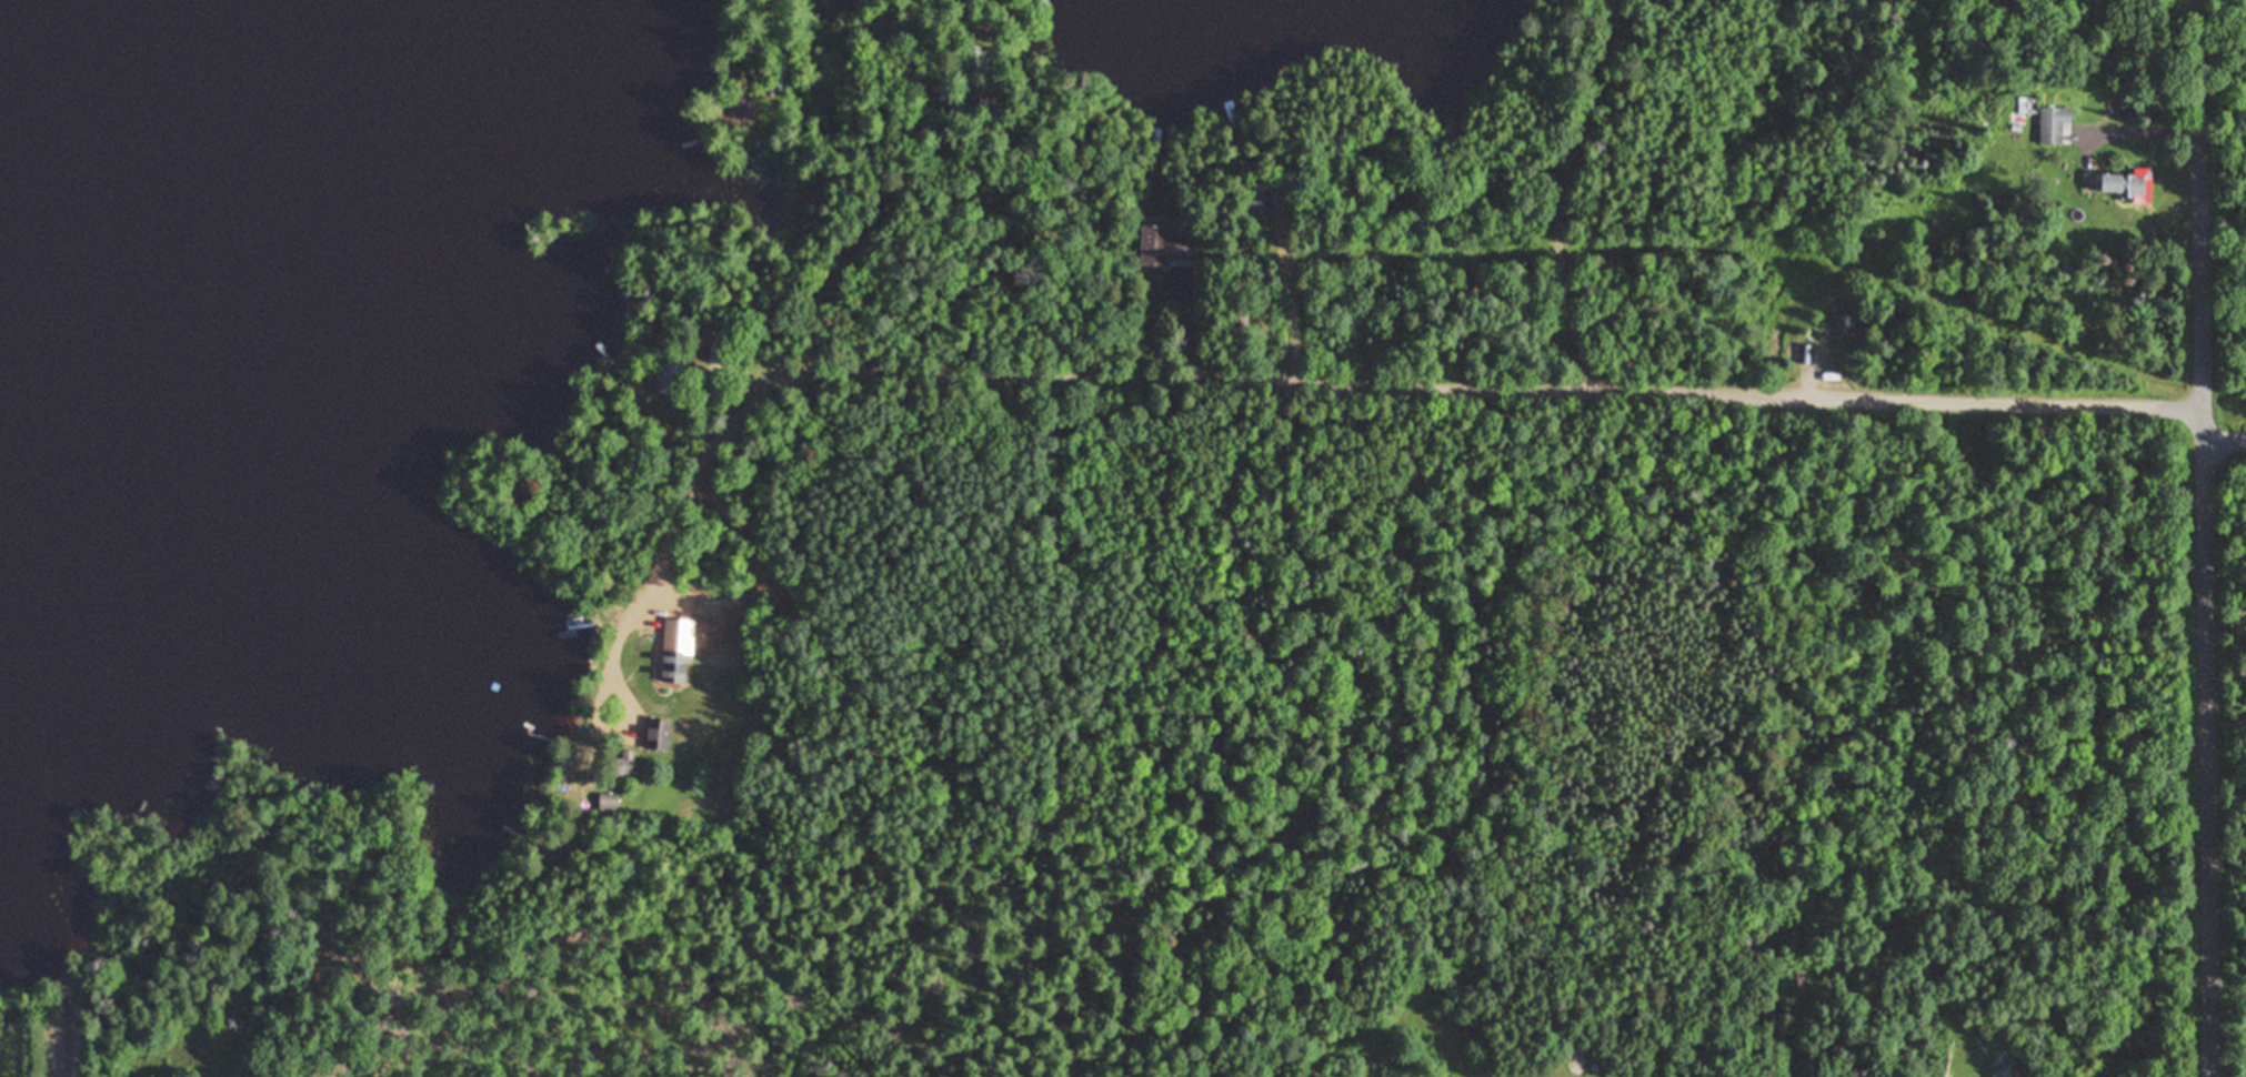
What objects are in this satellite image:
building: (2028, 105)
building: (2126, 109)
building: (2055, 125)
building: (2126, 185)
road: (1521, 193)
building: (1260, 200)
road: (986, 220)
building: (1165, 244)
building: (1844, 323)
building: (716, 353)
building: (669, 378)
road: (1233, 378)
road: (2225, 407)
road: (2208, 537)
building: (720, 671)
building: (658, 735)
building: (624, 763)
building: (609, 803)
road: (74, 1044)

